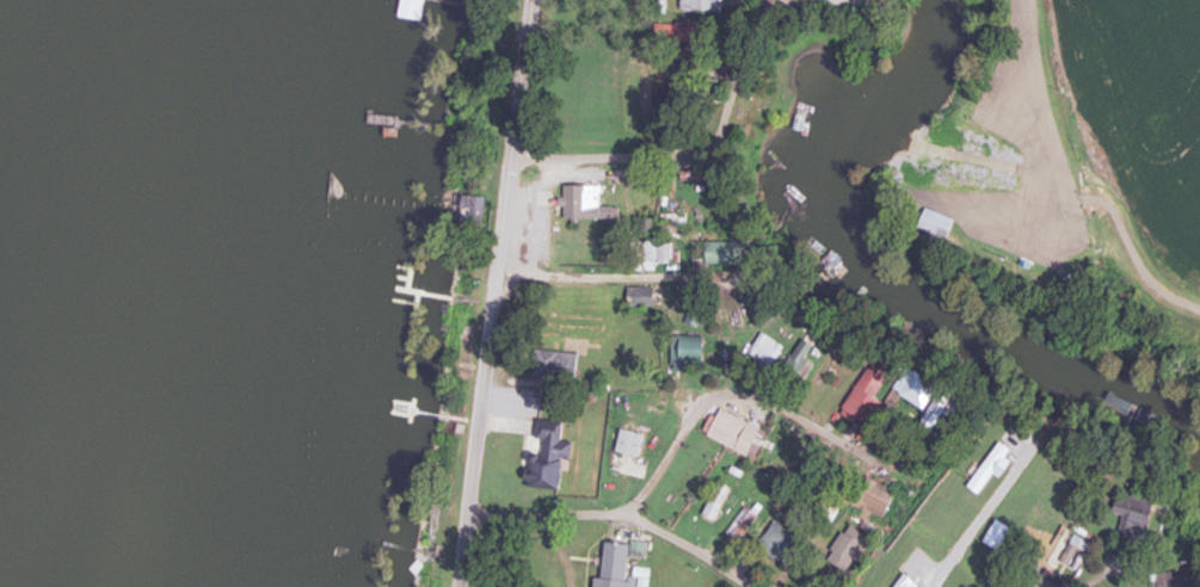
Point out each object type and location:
building: (700, 5)
building: (411, 10)
road: (1048, 92)
road: (596, 156)
building: (695, 175)
building: (586, 204)
building: (463, 208)
building: (664, 225)
building: (724, 252)
building: (652, 253)
road: (608, 273)
road: (494, 292)
building: (639, 296)
building: (802, 352)
building: (685, 353)
building: (555, 365)
building: (868, 390)
building: (918, 390)
road: (737, 394)
building: (937, 409)
building: (1128, 412)
building: (736, 433)
building: (629, 443)
building: (548, 456)
building: (874, 498)
building: (716, 501)
road: (619, 513)
building: (1133, 515)
building: (741, 526)
building: (1081, 539)
building: (776, 542)
building: (847, 548)
building: (617, 563)
road: (1099, 575)
building: (1184, 579)
building: (1046, 580)

